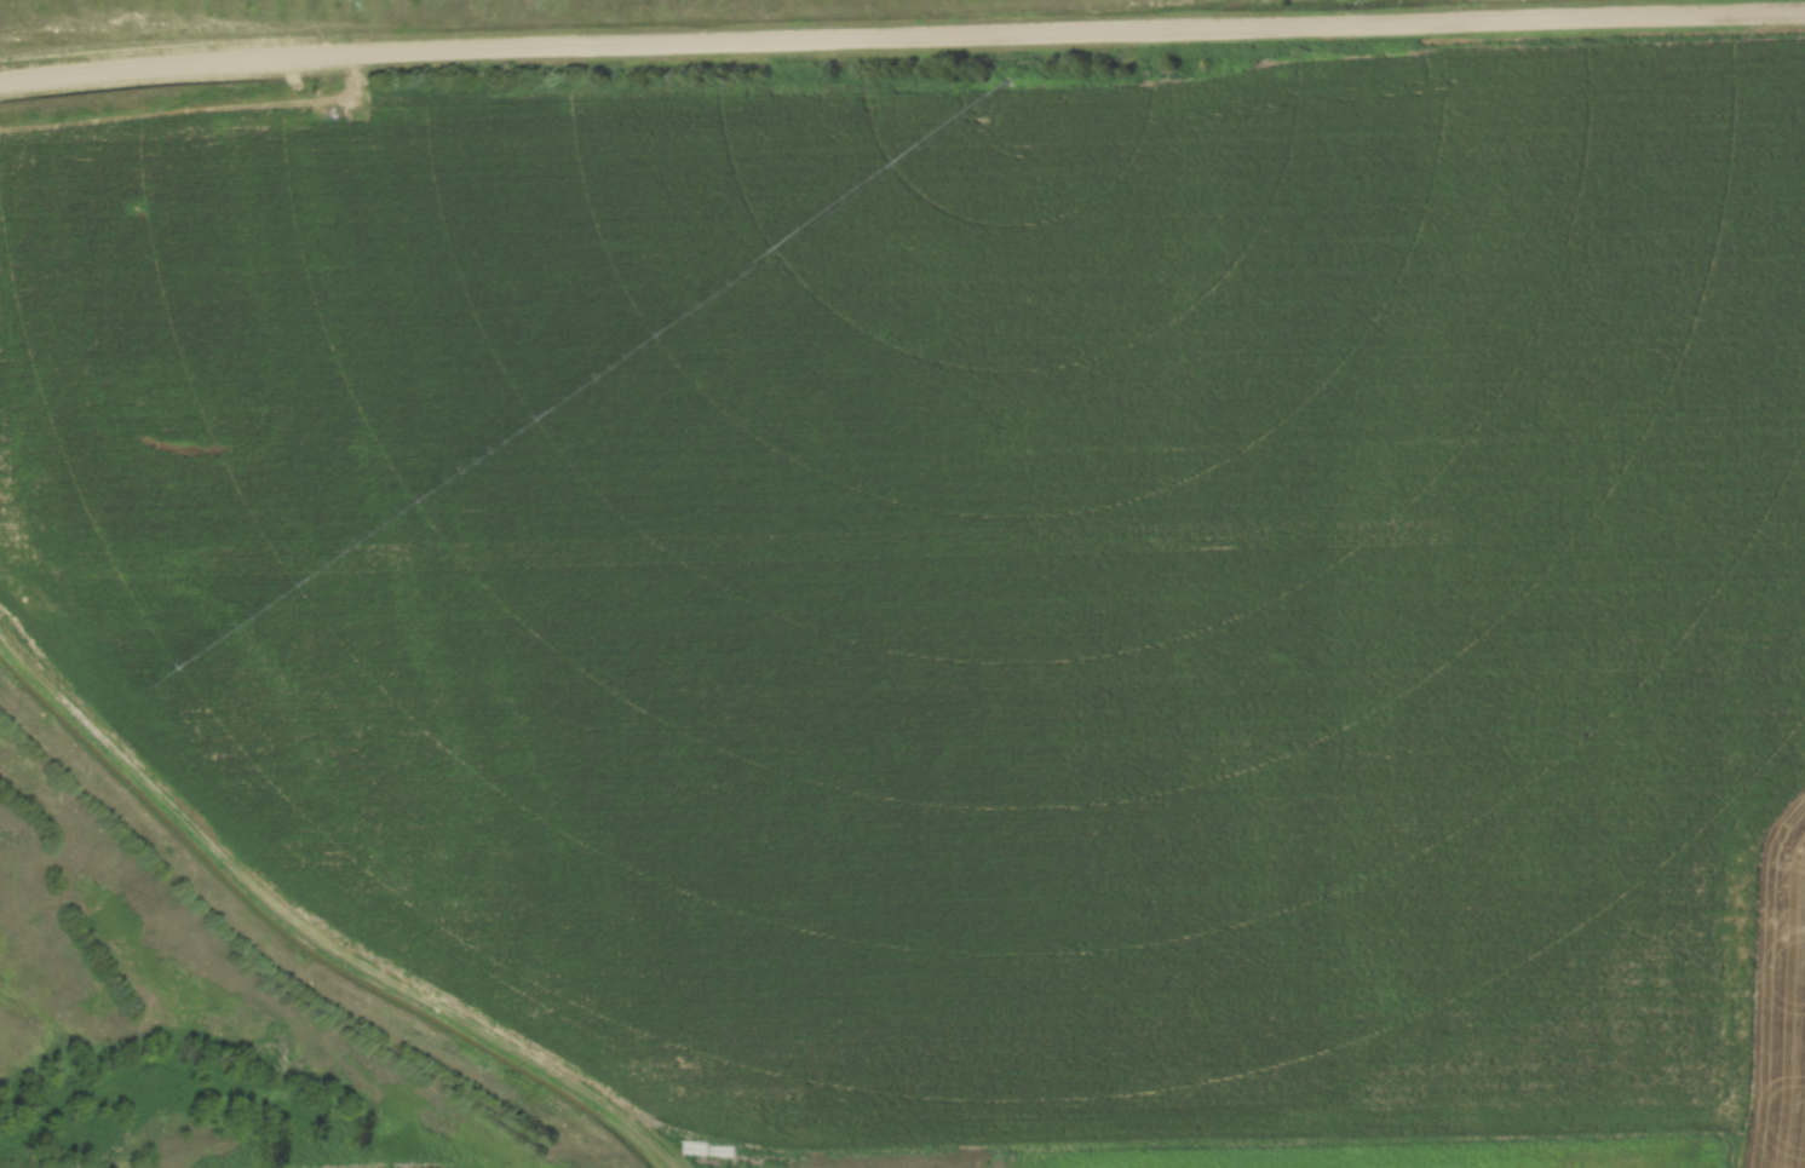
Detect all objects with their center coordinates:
road: (902, 38)

